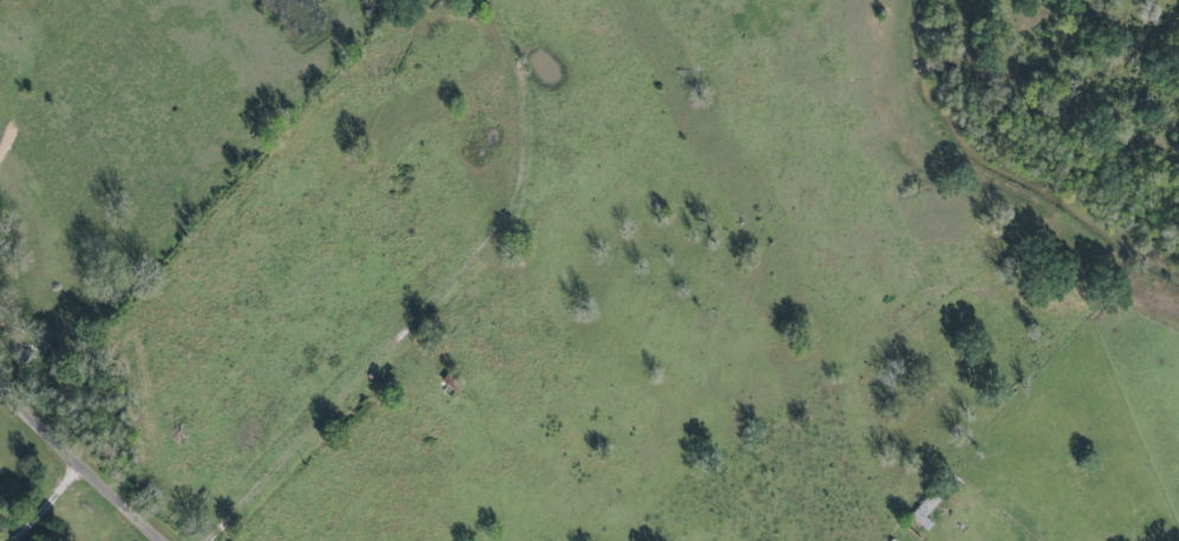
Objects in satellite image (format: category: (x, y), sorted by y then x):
river: (1005, 166)
road: (422, 328)
road: (81, 463)
road: (52, 504)
building: (925, 511)

